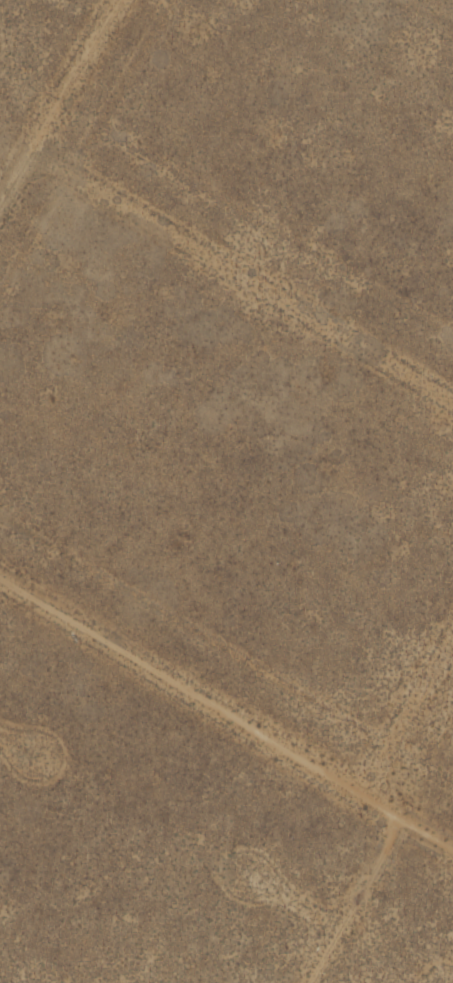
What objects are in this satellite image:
road: (221, 630)

